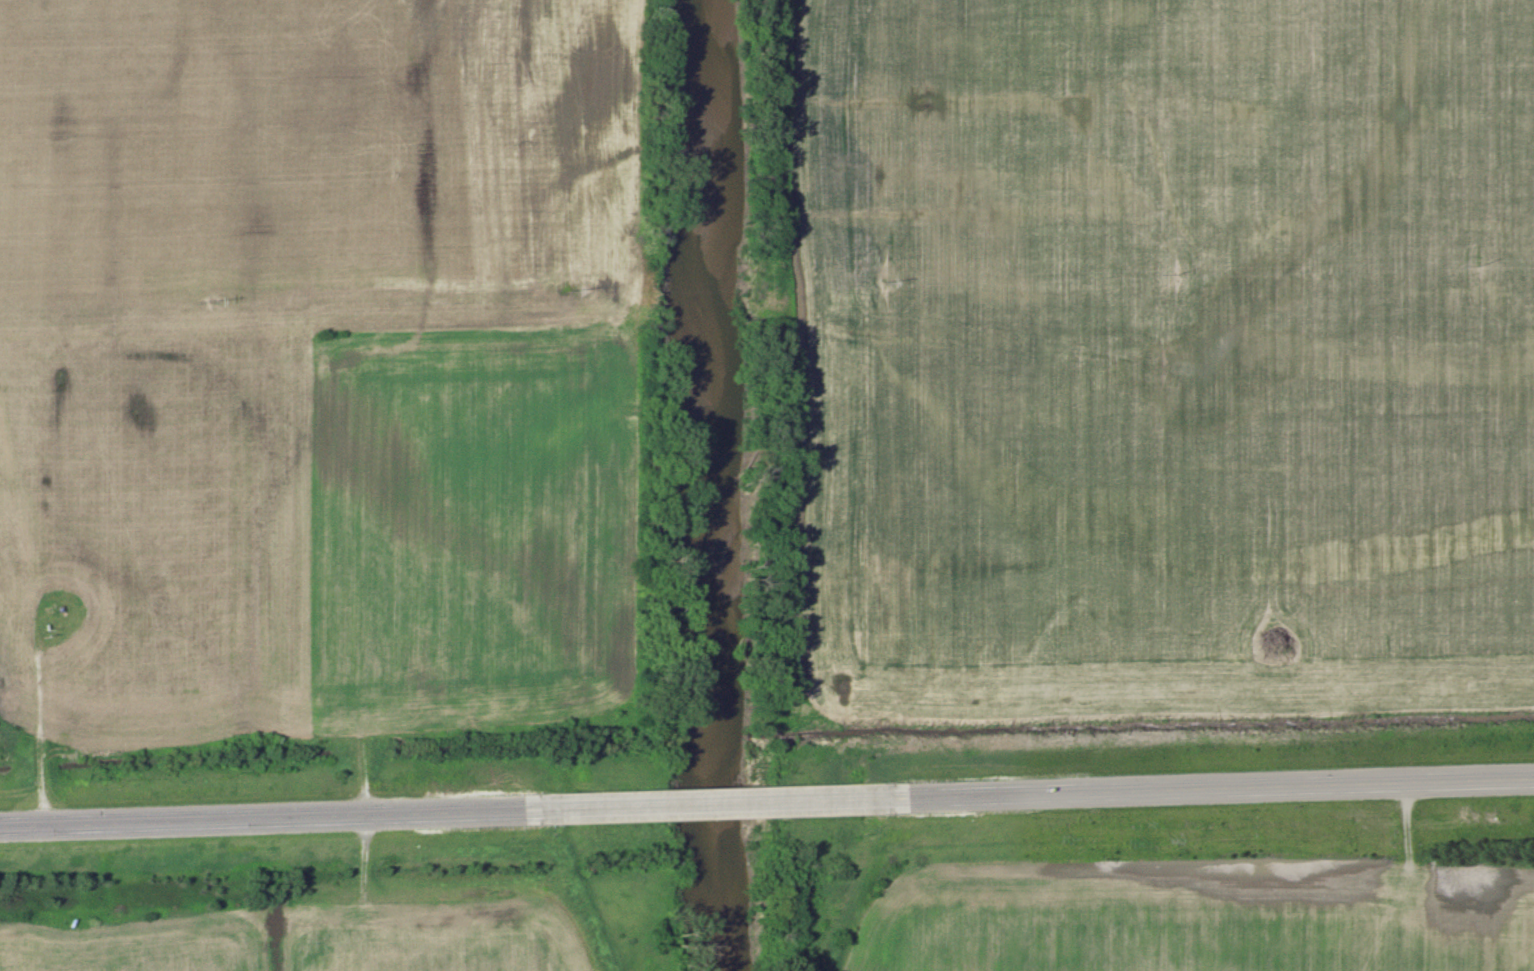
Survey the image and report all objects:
crop: (319, 170)
crop: (1166, 358)
road: (1214, 788)
road: (715, 804)
road: (267, 818)
crop: (1199, 921)
crop: (314, 941)

